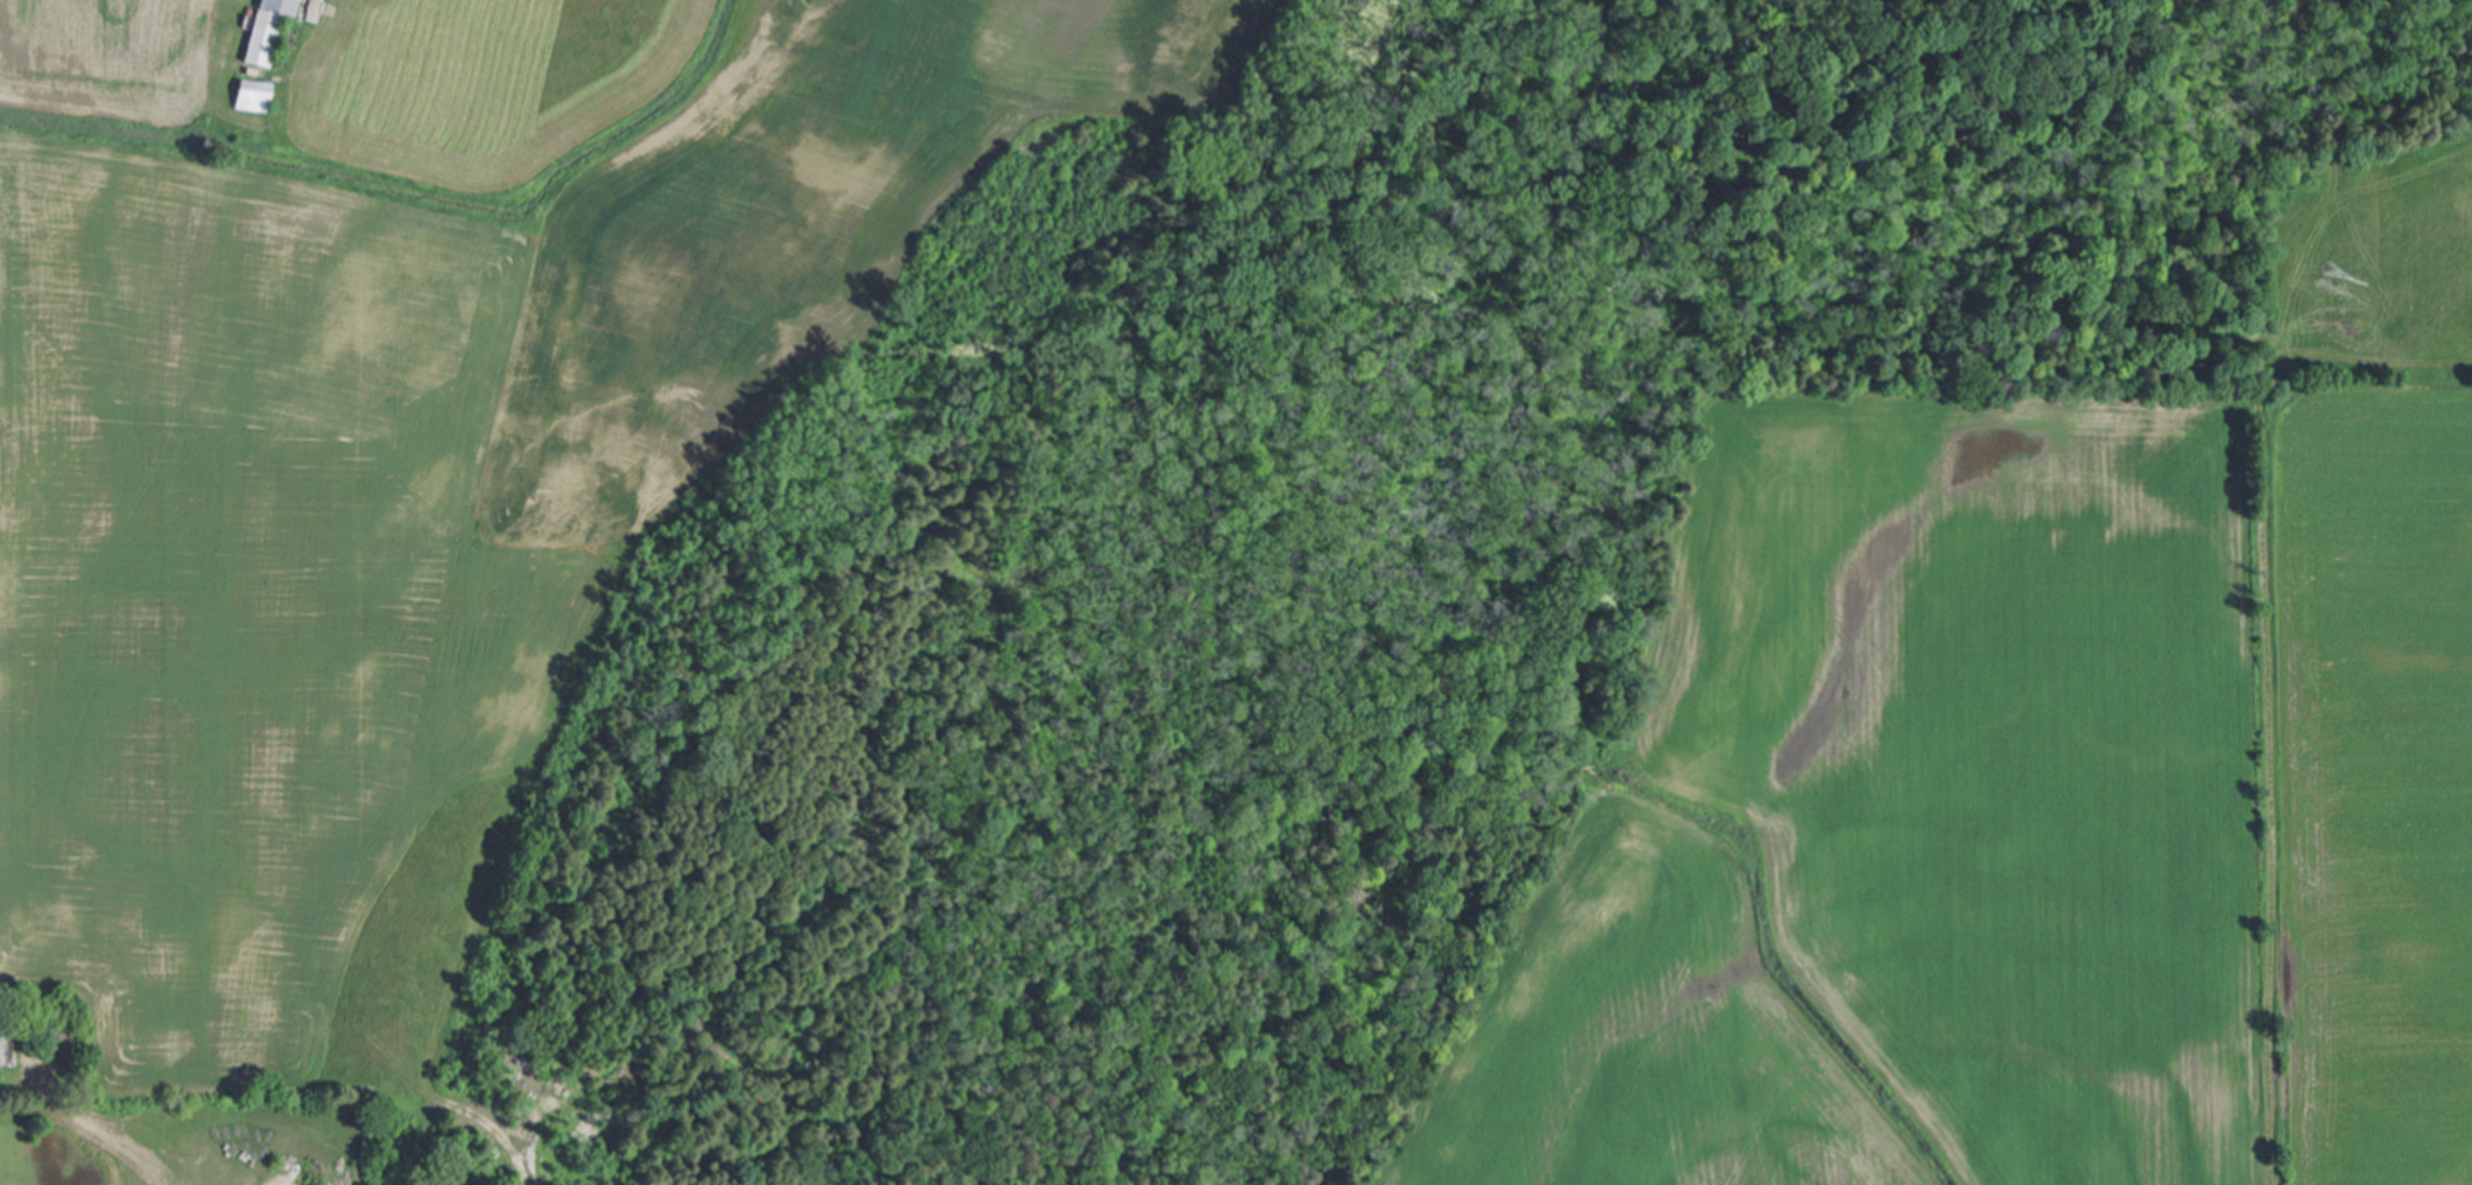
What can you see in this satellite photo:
building: (270, 29)
building: (255, 97)
building: (1, 1045)

